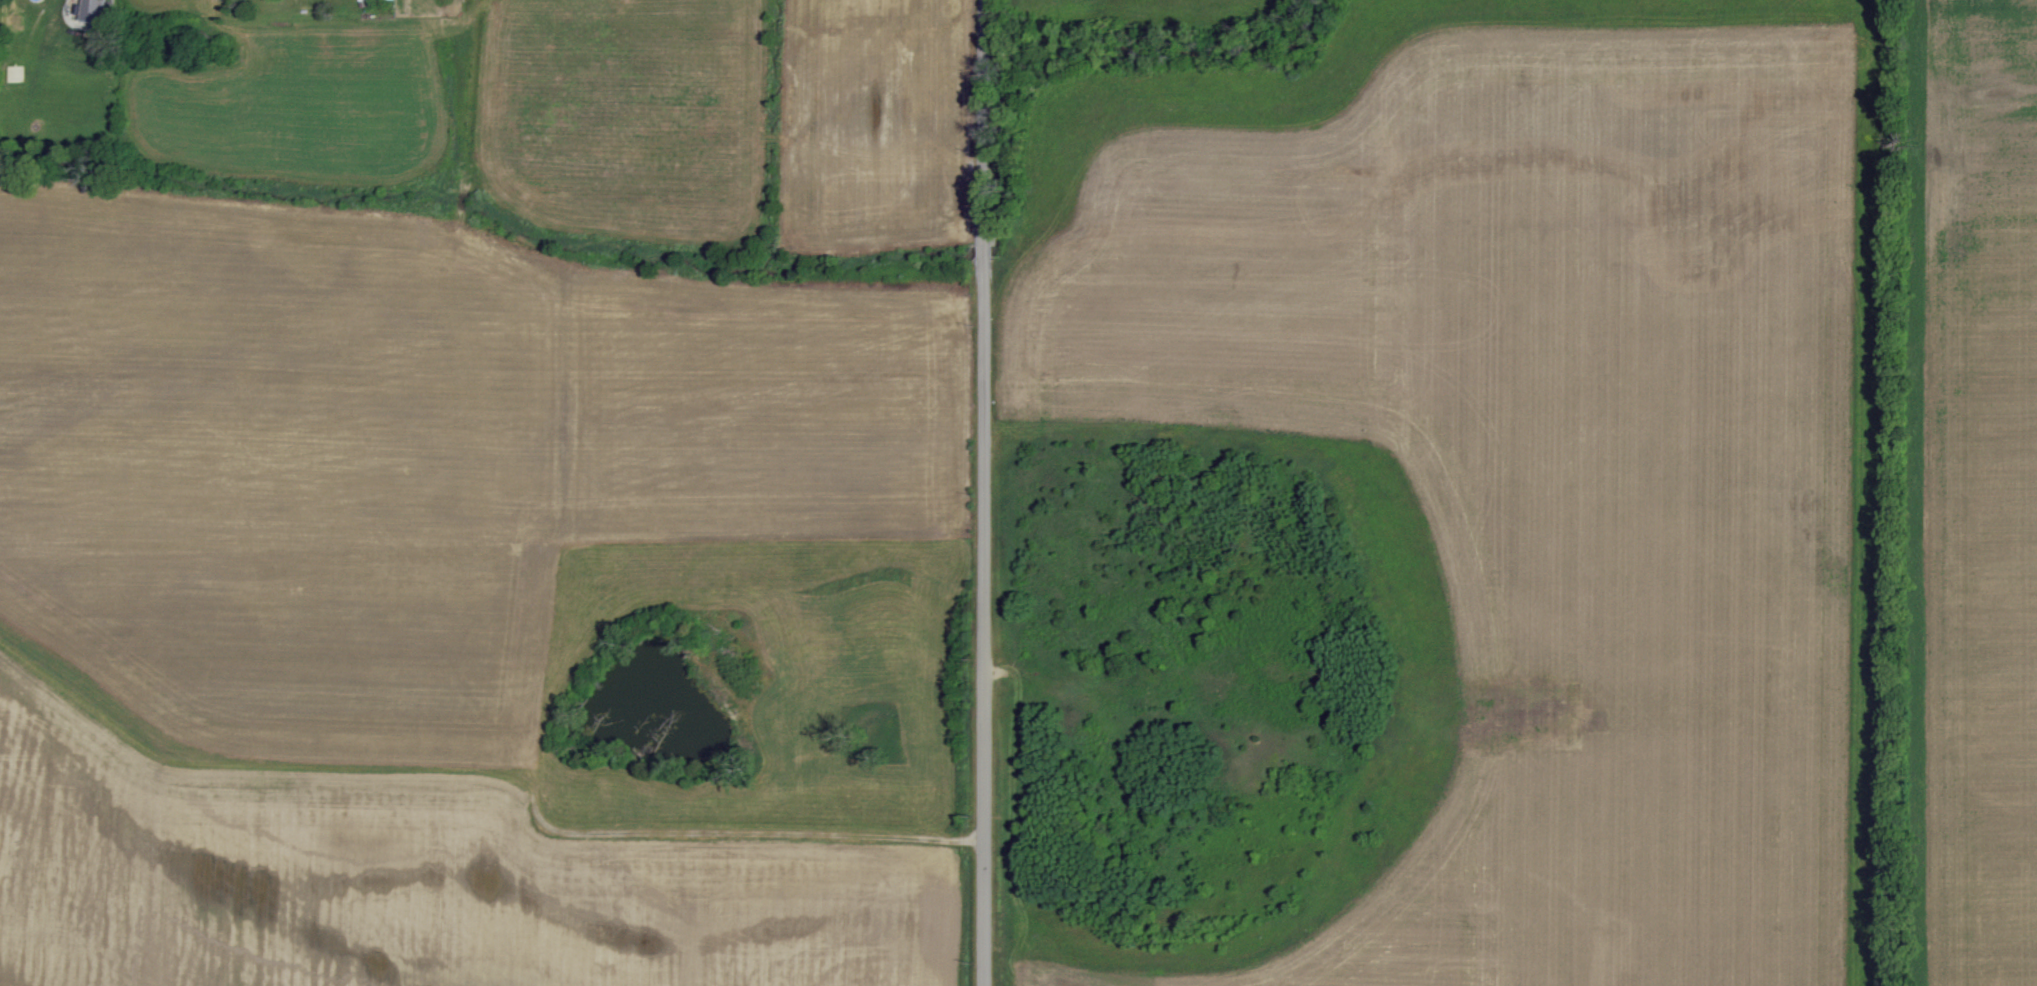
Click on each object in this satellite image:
building: (369, 0)
building: (93, 10)
road: (980, 492)

